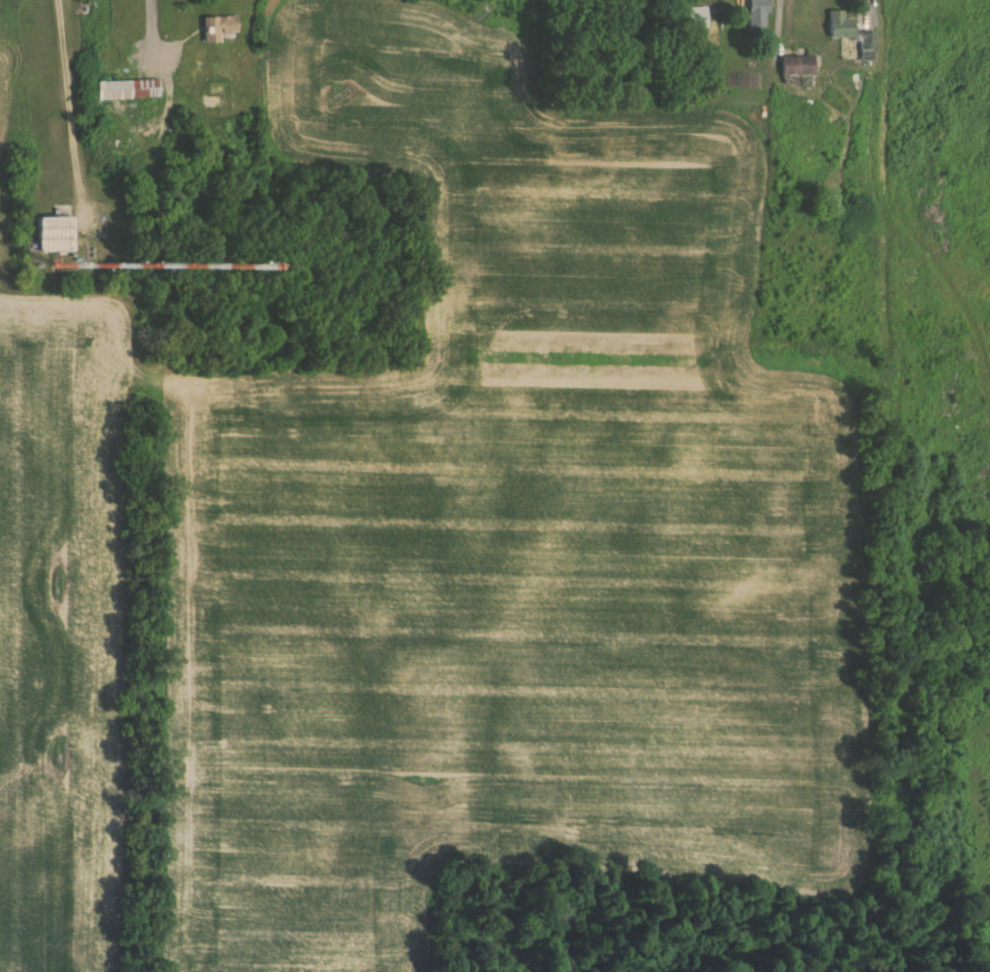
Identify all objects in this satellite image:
building: (758, 12)
building: (214, 27)
building: (850, 33)
building: (798, 65)
building: (128, 90)
road: (75, 107)
road: (984, 167)
building: (837, 203)
building: (51, 233)
road: (983, 332)
road: (985, 344)
road: (977, 352)
road: (919, 397)
road: (951, 417)

